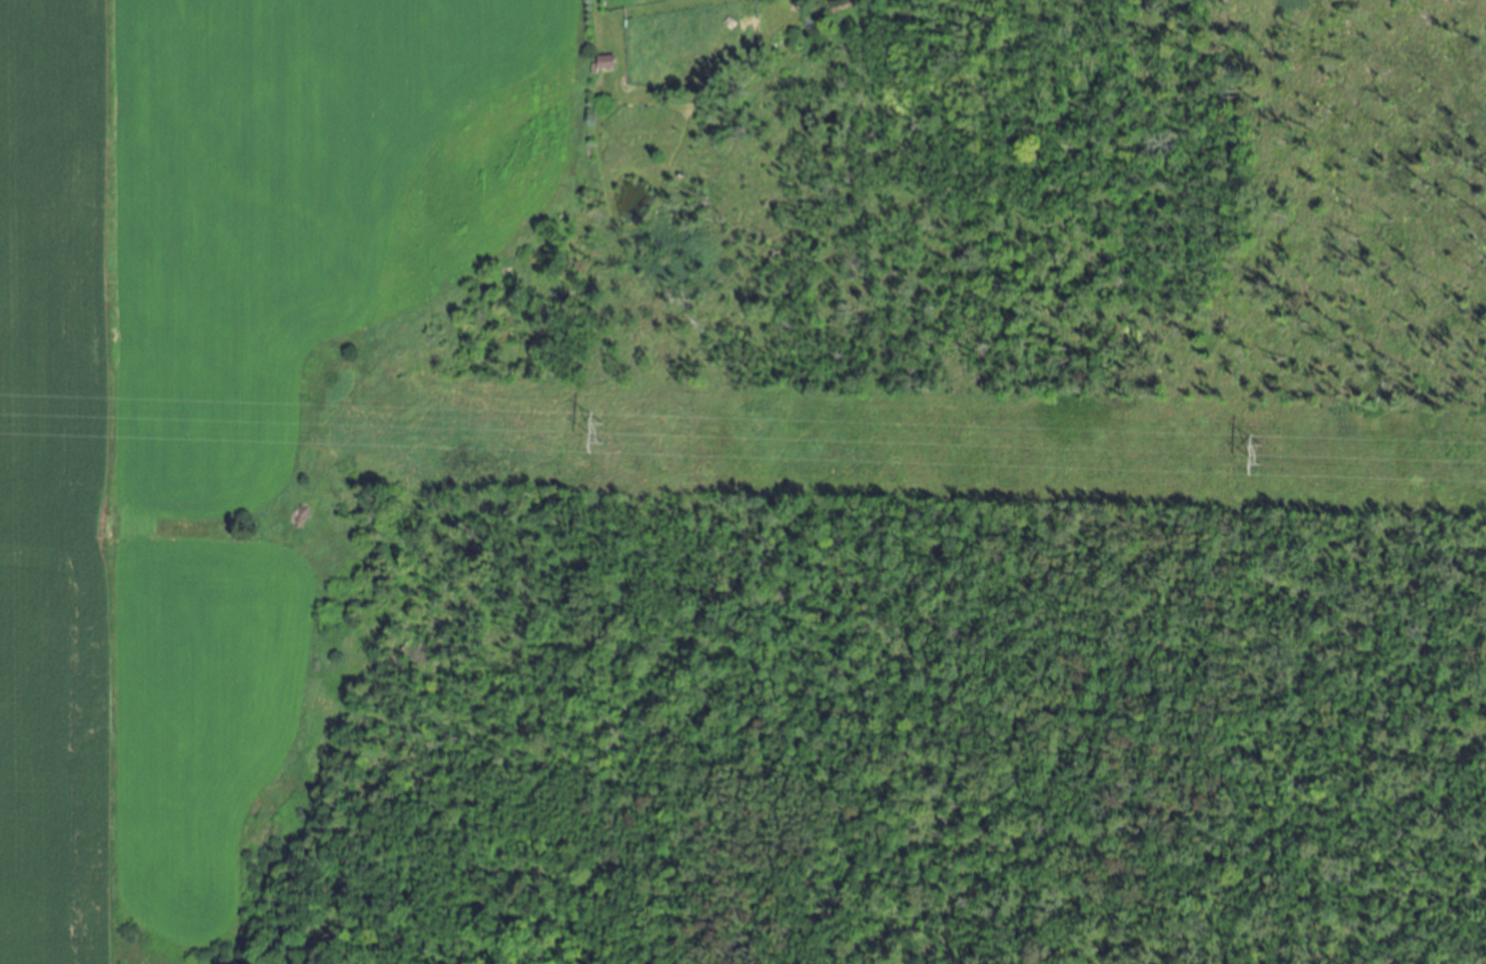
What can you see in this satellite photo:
building: (603, 63)
power tower: (604, 433)
power tower: (1258, 456)

